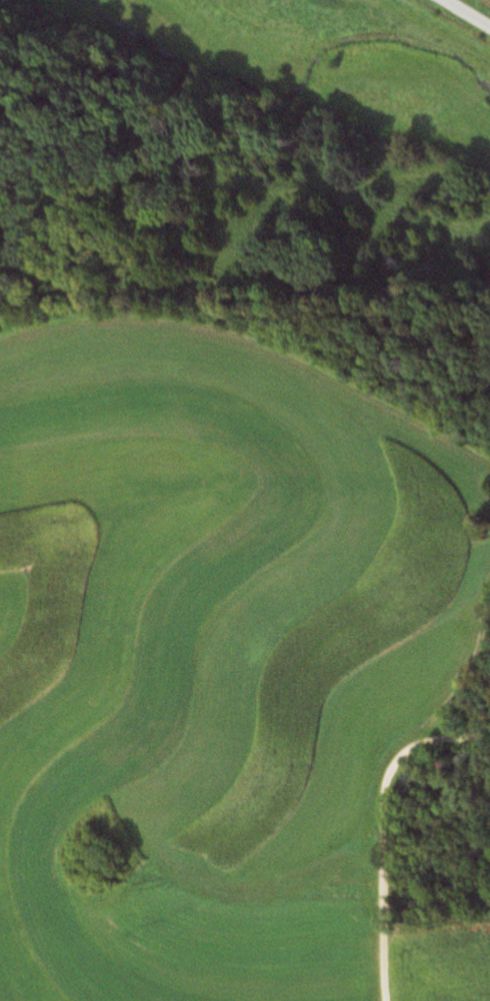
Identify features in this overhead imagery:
road: (466, 13)
road: (398, 832)

